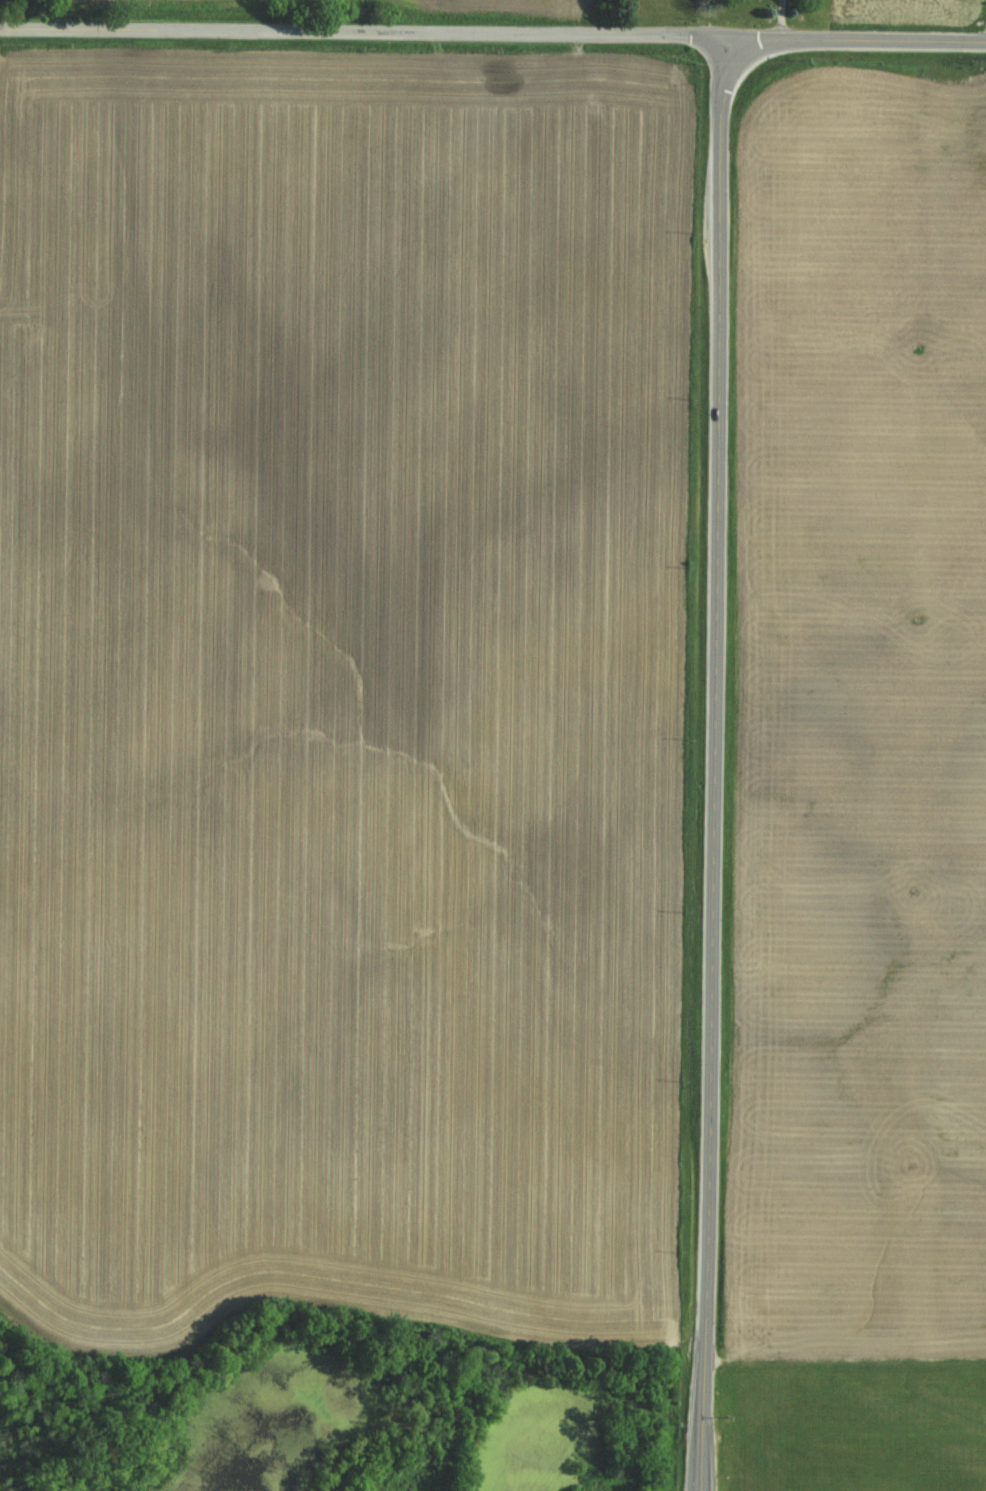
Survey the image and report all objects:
road: (781, 19)
road: (360, 28)
road: (852, 39)
road: (710, 761)

